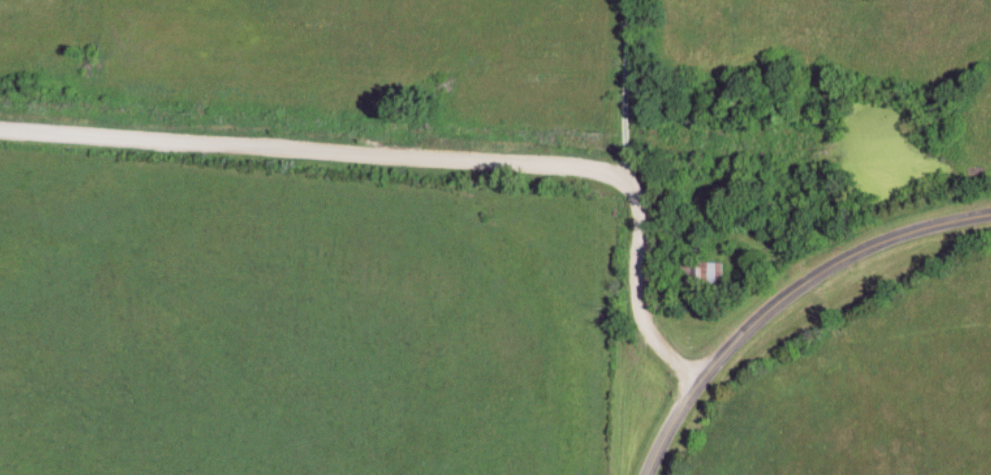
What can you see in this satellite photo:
road: (622, 88)
road: (428, 158)
road: (829, 270)
building: (703, 273)
road: (671, 426)

